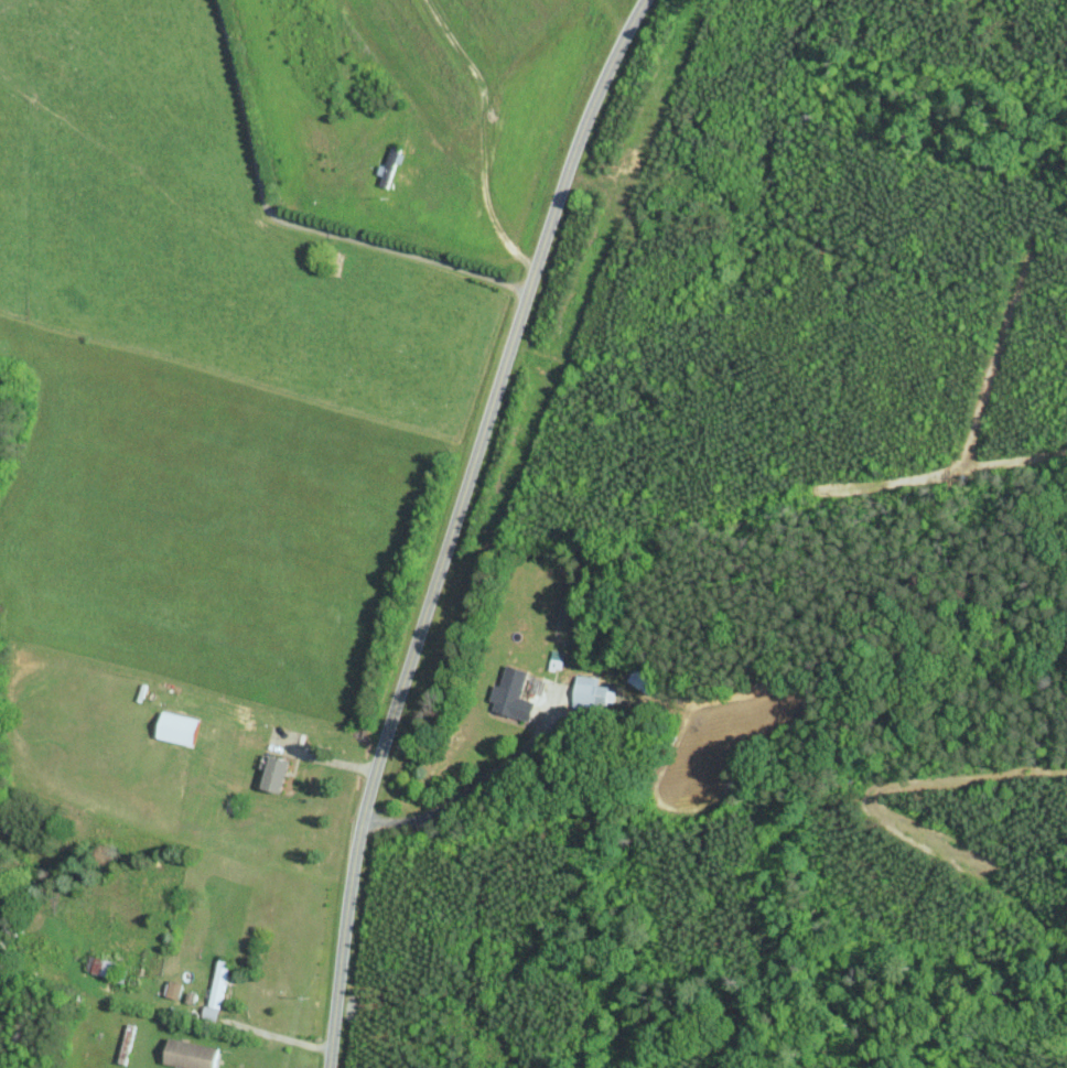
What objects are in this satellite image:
road: (615, 13)
road: (291, 223)
road: (453, 525)
building: (558, 659)
building: (592, 692)
building: (181, 727)
road: (335, 754)
building: (279, 773)
road: (472, 788)
building: (174, 989)
building: (217, 989)
road: (276, 1034)
building: (193, 1054)

